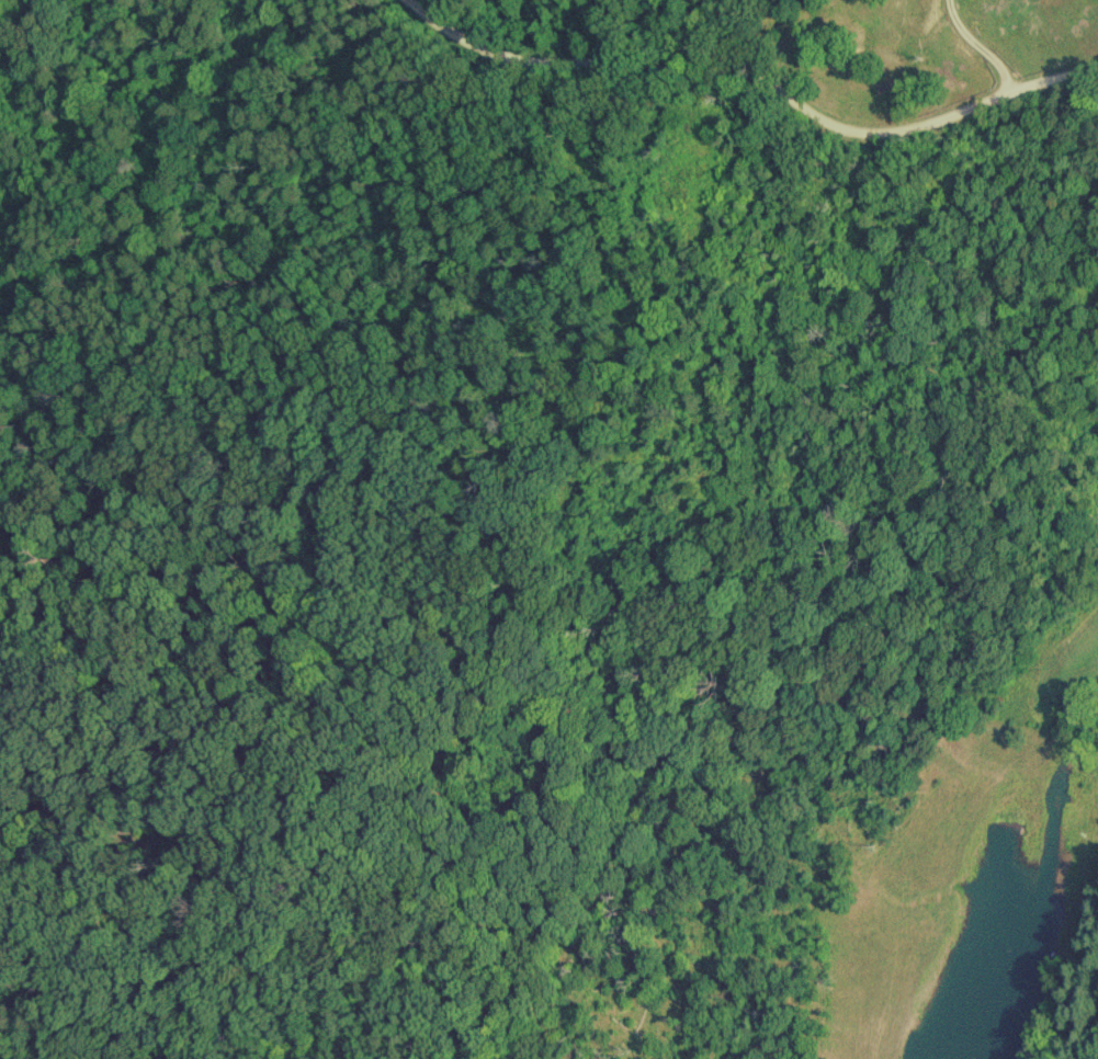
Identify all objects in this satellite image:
road: (978, 45)
road: (755, 73)

